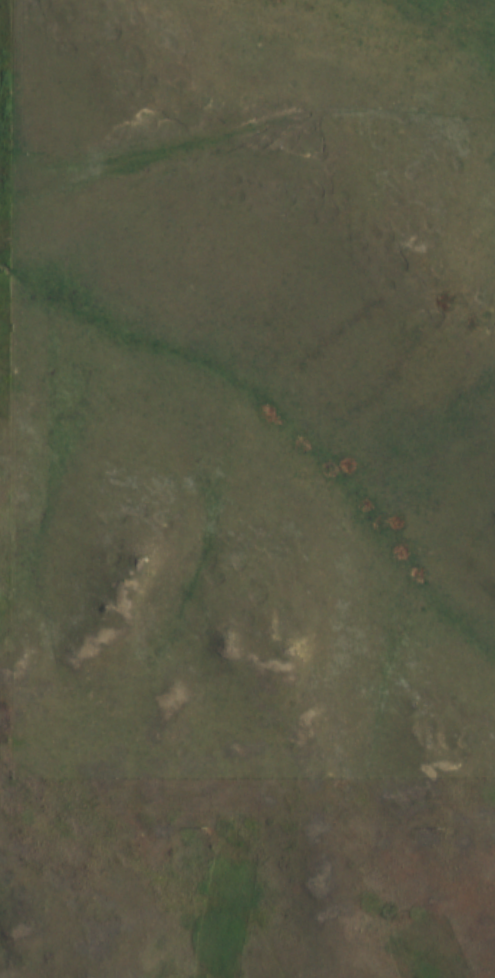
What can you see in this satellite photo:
road: (226, 909)

